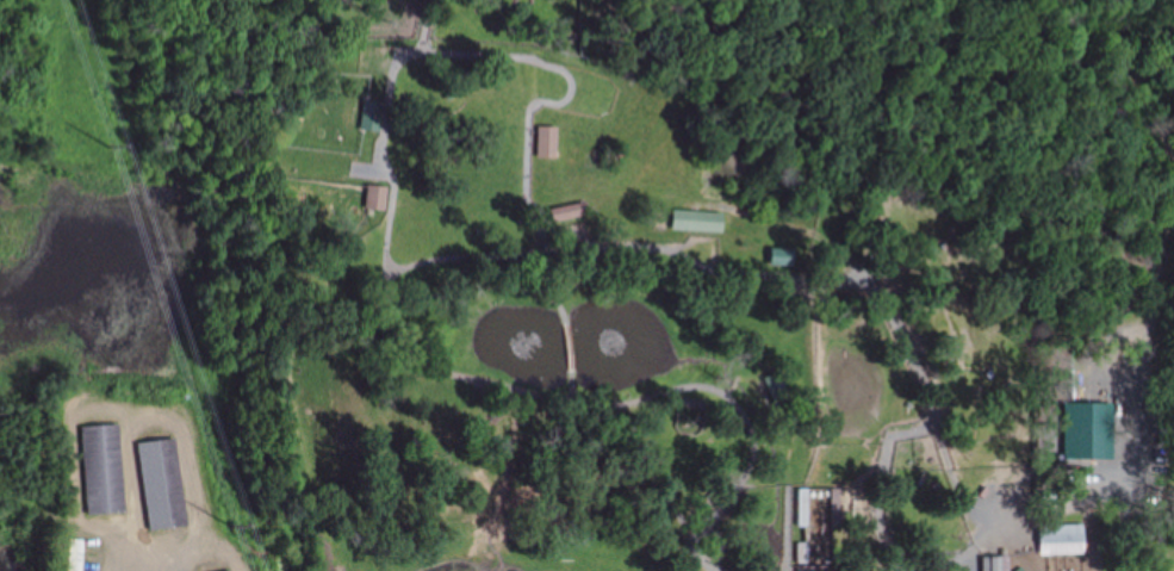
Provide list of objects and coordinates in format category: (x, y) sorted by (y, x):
building: (547, 143)
power tower: (108, 147)
building: (375, 199)
building: (565, 215)
building: (696, 223)
building: (779, 259)
building: (101, 471)
building: (161, 486)
building: (802, 508)
power tower: (231, 526)
building: (1058, 535)
building: (74, 556)
building: (803, 558)
building: (994, 564)

